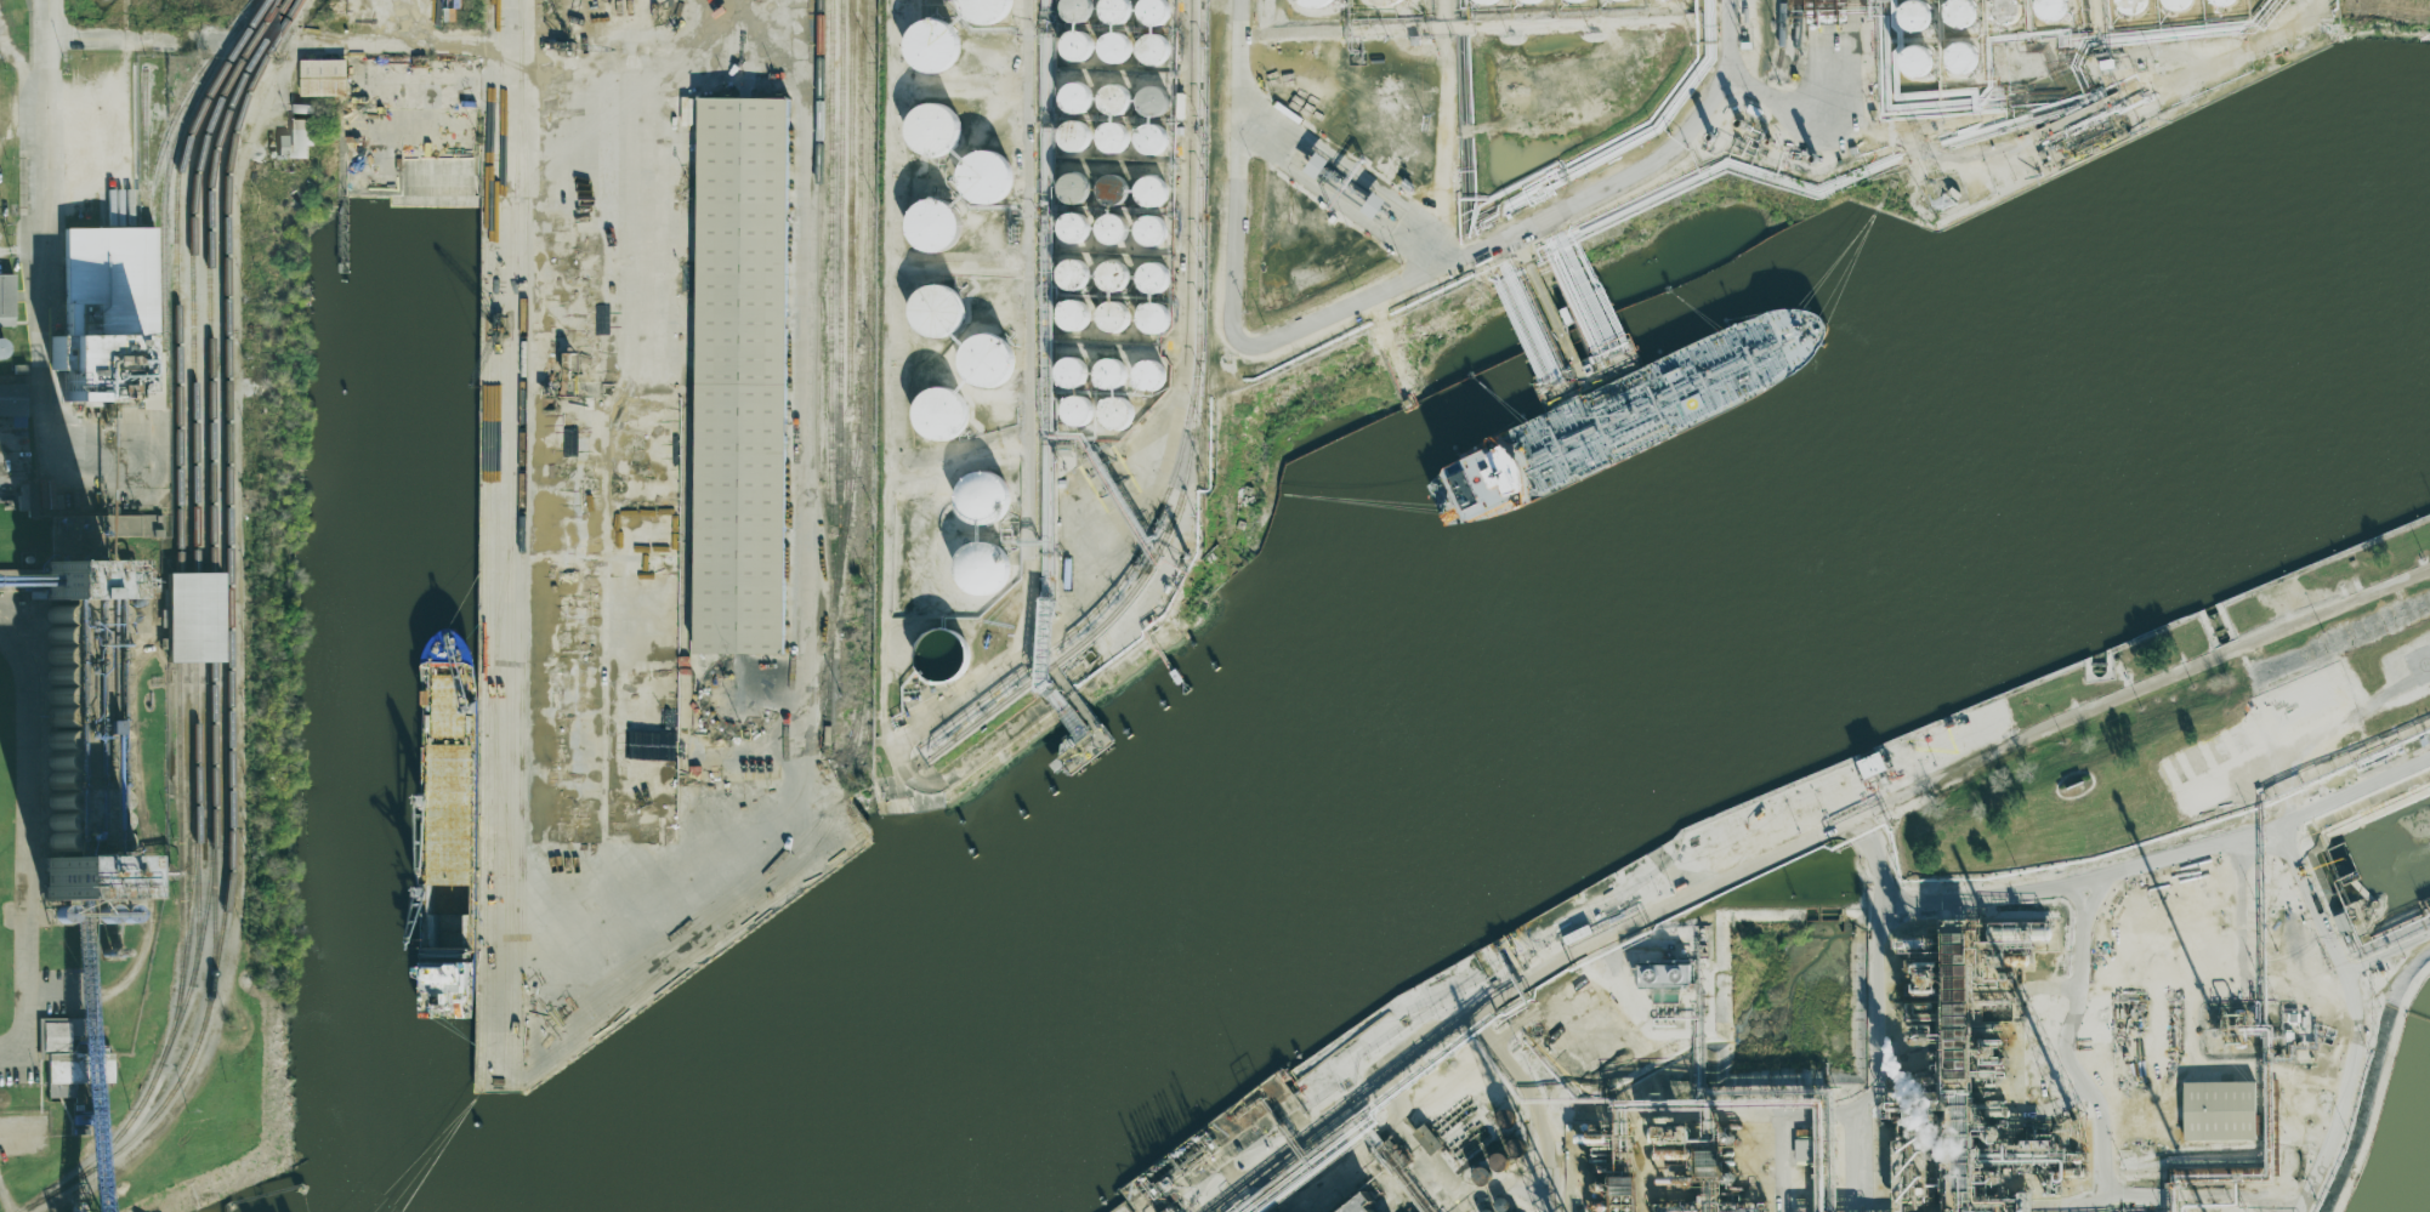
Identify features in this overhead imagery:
building: (1483, 2)
building: (1531, 2)
building: (1574, 2)
building: (1622, 2)
building: (1667, 2)
building: (1310, 4)
building: (1384, 4)
building: (2222, 5)
building: (2176, 6)
building: (980, 10)
building: (2131, 10)
railway: (518, 12)
building: (1073, 12)
building: (2050, 13)
building: (1113, 15)
building: (2005, 15)
building: (1152, 16)
building: (1960, 18)
road: (126, 21)
road: (1586, 22)
building: (1915, 22)
railway: (1783, 33)
road: (44, 40)
road: (120, 40)
railway: (1796, 40)
road: (638, 44)
building: (929, 50)
building: (1075, 50)
building: (1112, 51)
building: (1152, 55)
road: (1238, 55)
road: (1827, 58)
road: (17, 62)
building: (1959, 66)
building: (1914, 67)
building: (324, 78)
road: (1778, 98)
building: (1072, 103)
building: (1113, 104)
building: (1151, 106)
railway: (176, 115)
road: (1442, 120)
road: (2089, 124)
building: (301, 137)
building: (931, 137)
building: (1069, 141)
building: (1111, 142)
building: (1148, 144)
railway: (144, 146)
building: (283, 147)
building: (1316, 165)
railway: (166, 177)
railway: (1199, 180)
building: (980, 181)
road: (1342, 182)
building: (1071, 195)
building: (1108, 195)
building: (1149, 197)
building: (1373, 205)
building: (925, 229)
railway: (146, 233)
building: (1072, 233)
building: (1109, 234)
building: (1148, 235)
railway: (848, 262)
railway: (869, 262)
road: (1431, 264)
railway: (176, 273)
railway: (192, 274)
railway: (208, 274)
railway: (146, 277)
building: (1069, 280)
building: (1112, 281)
building: (1152, 283)
railway: (839, 290)
road: (46, 291)
railway: (817, 295)
building: (6, 300)
building: (935, 314)
building: (108, 317)
building: (1069, 320)
building: (1111, 322)
railway: (829, 323)
railway: (857, 323)
building: (1153, 323)
road: (1028, 324)
road: (1182, 343)
building: (984, 365)
building: (742, 374)
building: (1068, 377)
building: (1107, 381)
building: (1148, 382)
building: (12, 398)
building: (1075, 415)
building: (1113, 420)
building: (935, 421)
road: (885, 471)
road: (1100, 479)
building: (981, 496)
railway: (517, 518)
railway: (486, 544)
railway: (495, 544)
railway: (511, 544)
building: (984, 568)
railway: (503, 580)
railway: (1112, 590)
railway: (1126, 598)
railway: (520, 604)
railway: (867, 607)
river: (1567, 610)
railway: (178, 616)
building: (194, 616)
railway: (195, 616)
railway: (212, 616)
road: (1067, 620)
railway: (227, 624)
building: (942, 655)
railway: (829, 693)
railway: (490, 695)
railway: (865, 695)
railway: (489, 696)
railway: (856, 713)
railway: (856, 721)
building: (1872, 764)
railway: (501, 803)
railway: (212, 824)
railway: (181, 833)
road: (27, 843)
road: (1794, 849)
road: (1881, 874)
road: (2090, 878)
railway: (214, 914)
railway: (513, 917)
road: (547, 932)
railway: (664, 937)
railway: (676, 939)
road: (2329, 941)
railway: (697, 944)
railway: (197, 950)
railway: (693, 958)
railway: (183, 968)
building: (1664, 974)
railway: (630, 998)
road: (2072, 1065)
building: (2219, 1110)
building: (1427, 1139)
building: (1802, 1148)
building: (1498, 1162)
building: (1481, 1176)
building: (1362, 1205)
building: (1277, 1211)

